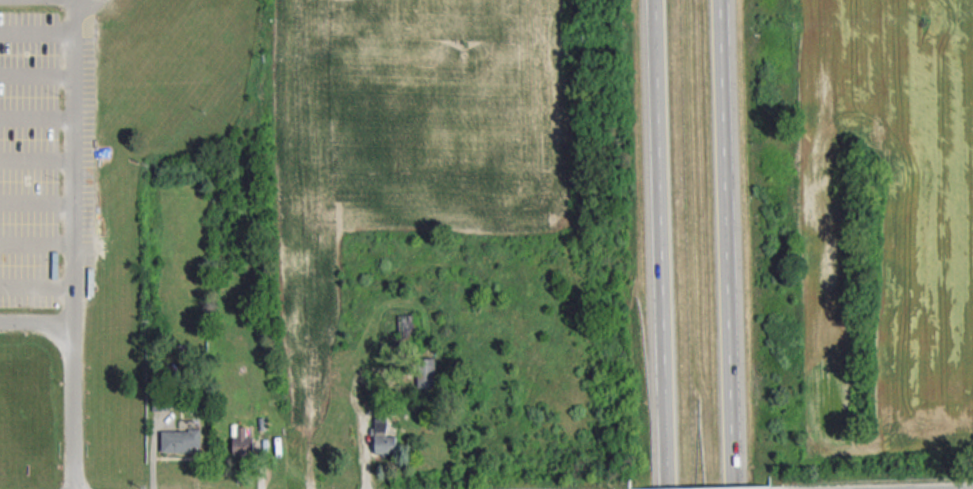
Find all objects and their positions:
road: (38, 29)
road: (38, 68)
road: (37, 111)
road: (75, 128)
parking lot: (29, 156)
road: (37, 158)
road: (37, 198)
road: (729, 232)
road: (662, 233)
road: (37, 242)
road: (36, 286)
road: (71, 298)
road: (374, 368)
building: (426, 371)
road: (70, 376)
building: (383, 437)
building: (179, 438)
building: (242, 441)
road: (364, 454)
road: (668, 477)
road: (735, 477)

